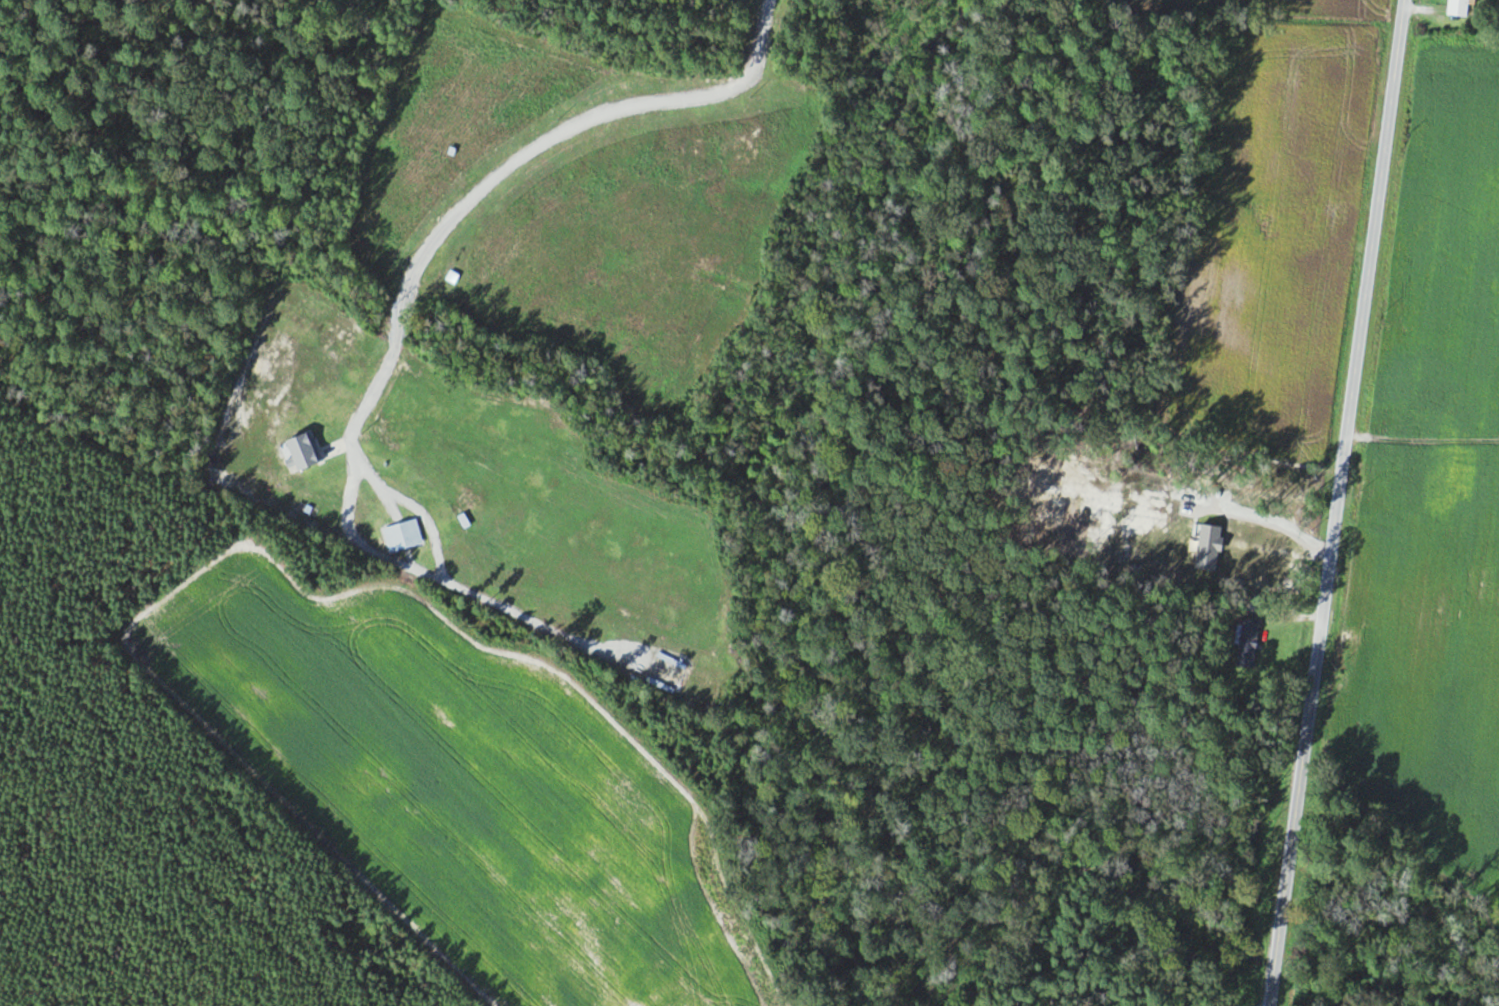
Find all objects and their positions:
building: (1458, 7)
road: (1334, 502)
building: (1248, 642)
river: (1060, 949)
river: (1277, 955)
river: (1353, 979)

